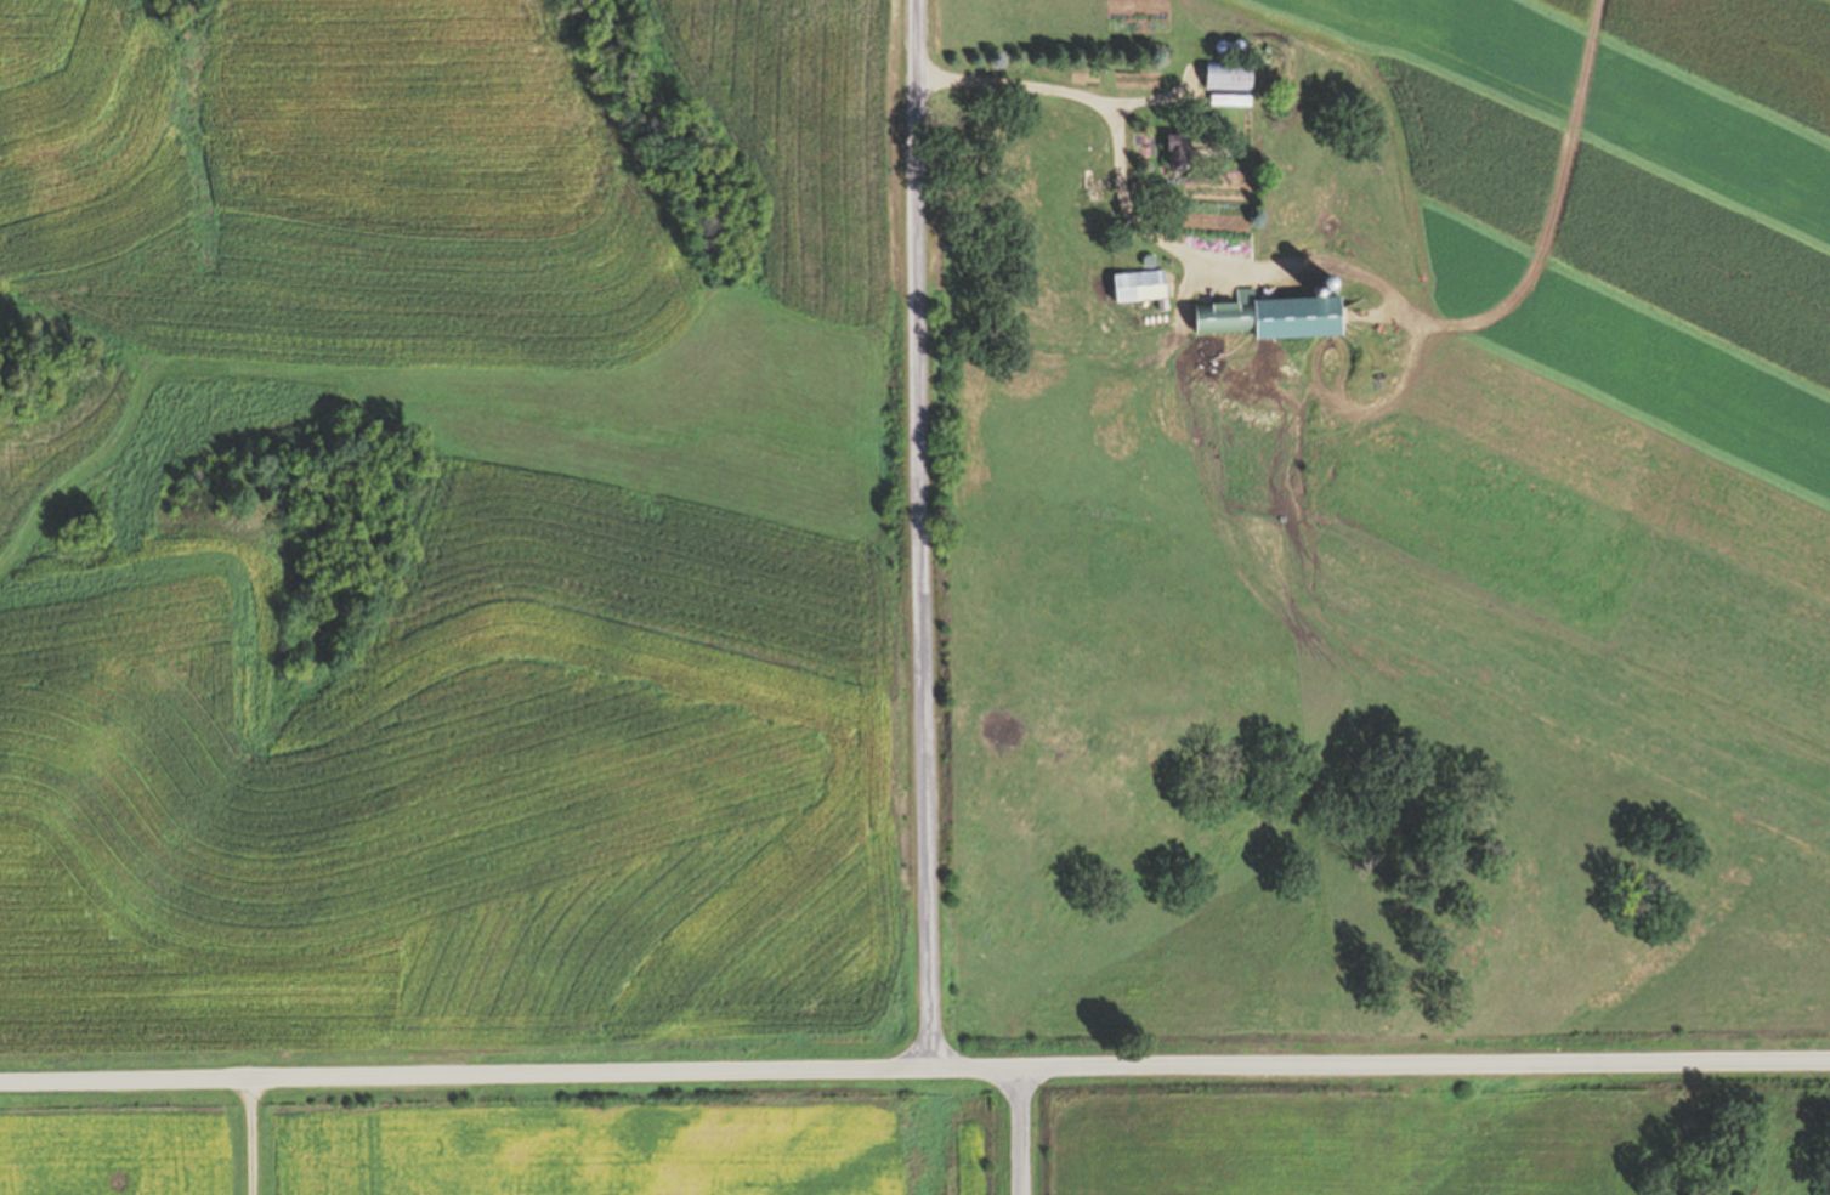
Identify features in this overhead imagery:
building: (1231, 78)
building: (1180, 152)
building: (1231, 315)
road: (917, 533)
road: (914, 1066)
road: (249, 1131)
road: (1018, 1132)

